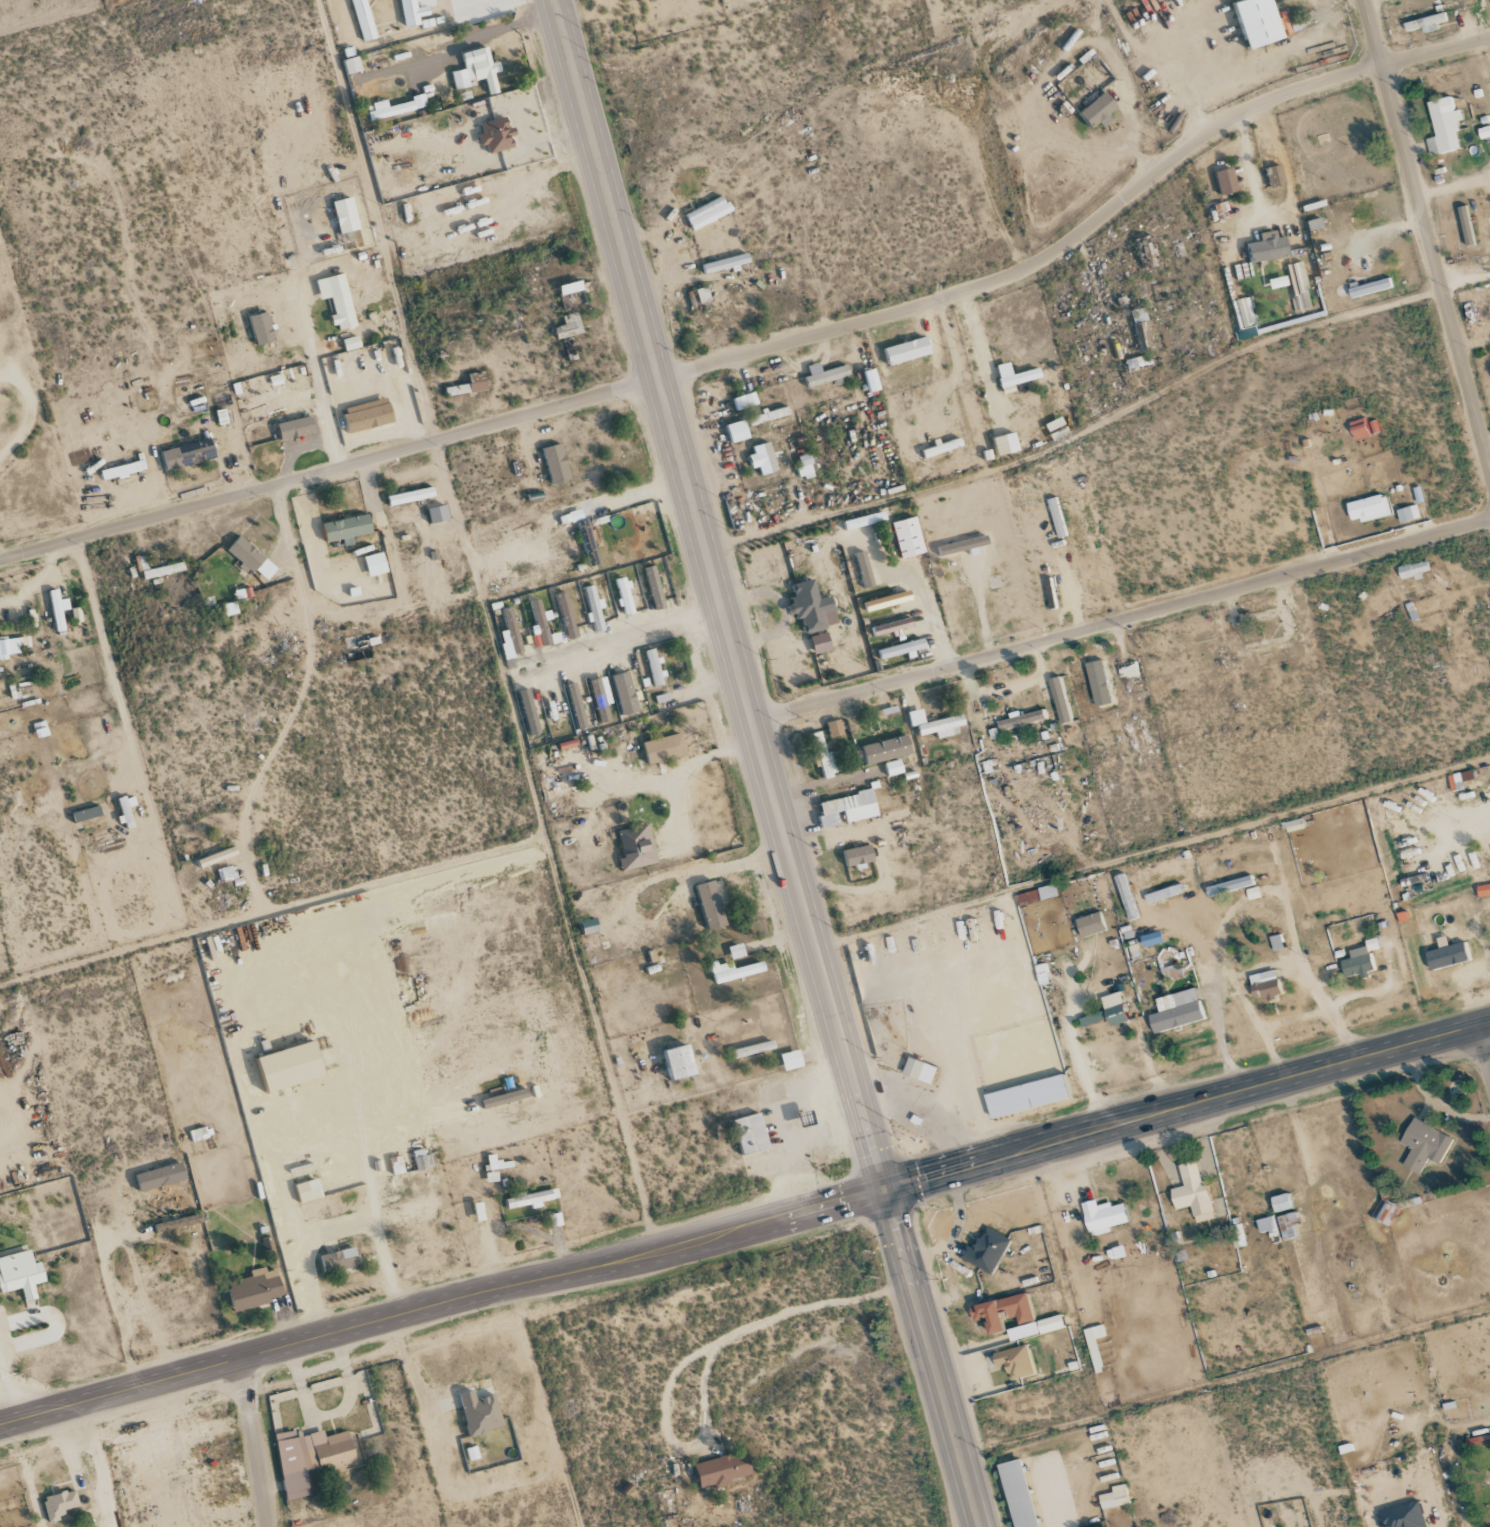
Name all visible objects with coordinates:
building: (406, 12)
building: (359, 19)
building: (1297, 21)
building: (1250, 22)
building: (1424, 23)
building: (348, 65)
building: (478, 70)
building: (397, 107)
building: (1092, 111)
building: (1443, 126)
building: (1484, 132)
building: (496, 135)
building: (1270, 176)
building: (1221, 181)
road: (1281, 211)
building: (702, 213)
building: (347, 215)
road: (378, 219)
building: (1309, 224)
building: (1466, 225)
road: (1427, 233)
building: (1263, 248)
building: (721, 263)
road: (1466, 282)
building: (1296, 286)
building: (1369, 288)
building: (573, 293)
building: (698, 295)
building: (339, 299)
building: (1243, 318)
building: (570, 326)
building: (263, 328)
building: (1139, 329)
road: (768, 349)
building: (902, 350)
building: (1135, 362)
building: (820, 374)
building: (1009, 376)
building: (865, 379)
building: (478, 382)
building: (458, 390)
building: (741, 401)
building: (368, 418)
building: (749, 423)
building: (297, 427)
building: (936, 448)
building: (189, 454)
building: (758, 458)
building: (557, 463)
building: (800, 466)
building: (124, 470)
building: (412, 496)
building: (1053, 506)
building: (1369, 508)
building: (1407, 513)
building: (439, 514)
building: (859, 520)
building: (348, 528)
building: (584, 536)
building: (902, 537)
building: (957, 545)
building: (253, 559)
building: (376, 564)
building: (859, 569)
building: (1412, 570)
building: (655, 587)
building: (625, 596)
building: (881, 601)
building: (808, 607)
building: (594, 608)
building: (59, 610)
road: (1122, 619)
building: (541, 626)
building: (887, 626)
building: (511, 630)
road: (638, 631)
building: (815, 643)
building: (11, 646)
building: (896, 649)
building: (654, 667)
building: (1127, 670)
building: (1098, 682)
building: (626, 693)
building: (602, 698)
building: (1060, 699)
building: (529, 712)
building: (1022, 719)
building: (931, 724)
building: (830, 728)
road: (126, 738)
building: (665, 748)
building: (881, 749)
building: (821, 757)
road: (767, 764)
building: (888, 767)
building: (1460, 780)
building: (128, 809)
building: (843, 809)
building: (87, 814)
building: (1293, 825)
building: (637, 848)
building: (221, 855)
building: (853, 856)
road: (1210, 865)
building: (227, 872)
building: (1229, 885)
building: (1483, 890)
building: (1163, 893)
building: (1037, 894)
building: (1126, 897)
building: (711, 905)
road: (1252, 907)
building: (1089, 924)
building: (590, 926)
building: (736, 951)
building: (1446, 954)
building: (1359, 960)
road: (1255, 968)
building: (735, 971)
building: (1264, 984)
building: (1176, 1010)
building: (1107, 1011)
road: (1260, 1028)
building: (754, 1049)
road: (1484, 1049)
building: (792, 1060)
building: (682, 1063)
building: (292, 1066)
building: (919, 1070)
building: (1026, 1096)
building: (505, 1099)
road: (303, 1122)
building: (752, 1134)
building: (1423, 1144)
building: (423, 1161)
building: (495, 1168)
building: (161, 1177)
building: (309, 1191)
traffic signals: (888, 1191)
building: (1192, 1192)
building: (532, 1199)
building: (1281, 1203)
building: (480, 1212)
building: (1102, 1217)
building: (1279, 1226)
road: (332, 1228)
road: (744, 1230)
building: (985, 1250)
building: (340, 1260)
building: (21, 1274)
building: (256, 1289)
building: (984, 1314)
road: (114, 1327)
building: (1035, 1328)
building: (1094, 1345)
building: (1014, 1362)
building: (481, 1413)
road: (252, 1443)
building: (311, 1457)
building: (723, 1470)
building: (1017, 1494)
building: (1114, 1497)
building: (60, 1504)
building: (1402, 1516)

